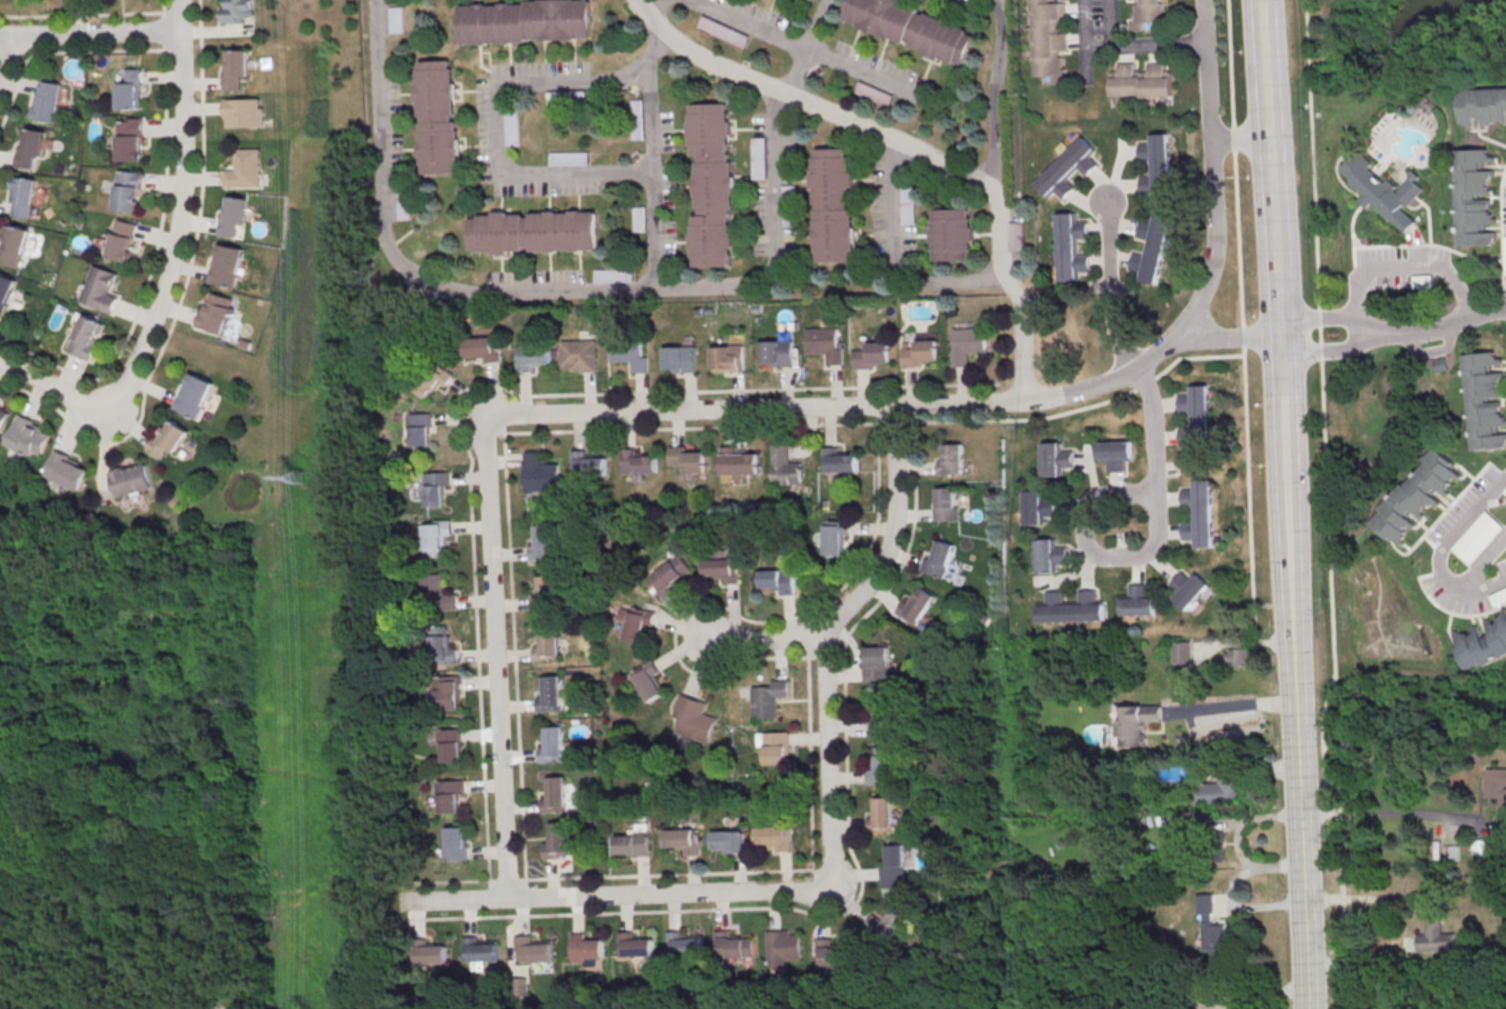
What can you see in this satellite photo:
building: (795, 0)
road: (652, 4)
building: (237, 11)
building: (1144, 13)
road: (80, 17)
building: (394, 19)
building: (522, 20)
road: (745, 24)
building: (909, 27)
road: (90, 34)
building: (1046, 39)
road: (809, 46)
road: (1134, 48)
road: (6, 59)
building: (235, 68)
road: (861, 71)
building: (1140, 81)
building: (130, 90)
road: (804, 100)
building: (48, 101)
building: (1483, 106)
building: (243, 112)
road: (497, 112)
building: (436, 116)
building: (511, 128)
road: (990, 138)
building: (130, 139)
road: (1240, 139)
building: (30, 147)
building: (567, 157)
building: (1155, 166)
road: (1269, 168)
building: (244, 169)
building: (1066, 169)
road: (1213, 174)
road: (654, 178)
building: (712, 184)
road: (771, 186)
building: (1383, 190)
building: (128, 191)
building: (24, 197)
building: (1474, 198)
building: (832, 205)
building: (906, 205)
building: (403, 206)
road: (199, 216)
building: (233, 216)
building: (639, 218)
building: (538, 231)
building: (950, 235)
building: (1013, 236)
building: (122, 240)
building: (13, 245)
building: (1068, 246)
building: (1150, 248)
road: (155, 251)
building: (226, 265)
road: (893, 265)
road: (171, 270)
road: (1401, 270)
building: (1423, 281)
building: (99, 289)
road: (449, 289)
road: (1105, 290)
building: (5, 291)
road: (1241, 307)
building: (216, 312)
road: (1319, 320)
road: (1434, 329)
building: (86, 336)
road: (1020, 338)
road: (1228, 338)
road: (1321, 338)
building: (823, 343)
building: (965, 344)
building: (482, 349)
building: (919, 351)
building: (630, 352)
building: (776, 353)
road: (1321, 353)
building: (871, 354)
building: (580, 355)
building: (532, 357)
building: (728, 357)
building: (681, 358)
building: (432, 380)
road: (749, 391)
building: (194, 395)
building: (1485, 401)
road: (830, 407)
building: (2, 417)
building: (1195, 419)
building: (421, 429)
road: (1153, 429)
road: (657, 430)
building: (26, 436)
building: (168, 438)
road: (1283, 439)
building: (1113, 454)
building: (949, 458)
building: (1053, 459)
building: (687, 460)
building: (839, 460)
building: (740, 462)
building: (639, 463)
building: (589, 464)
building: (786, 468)
building: (67, 470)
building: (541, 474)
power tower: (294, 475)
building: (131, 480)
building: (436, 488)
building: (1505, 491)
building: (1415, 497)
building: (946, 504)
building: (1037, 507)
building: (1199, 513)
road: (894, 528)
building: (836, 537)
building: (1477, 537)
building: (437, 538)
building: (543, 544)
road: (1442, 550)
road: (1150, 551)
building: (1049, 555)
building: (941, 560)
road: (1483, 562)
building: (722, 569)
building: (672, 575)
building: (777, 581)
building: (1188, 589)
building: (435, 593)
building: (545, 595)
building: (1499, 598)
building: (1139, 602)
building: (916, 606)
building: (1071, 608)
building: (639, 625)
road: (767, 641)
building: (548, 644)
building: (442, 646)
building: (1180, 652)
building: (1239, 657)
building: (876, 663)
road: (497, 671)
building: (650, 681)
building: (448, 691)
building: (550, 694)
building: (768, 699)
road: (1234, 704)
building: (880, 716)
building: (694, 718)
building: (1133, 723)
building: (552, 744)
building: (452, 745)
building: (776, 748)
road: (828, 753)
building: (881, 765)
road: (1297, 774)
building: (1496, 783)
building: (1220, 791)
building: (555, 794)
building: (451, 796)
building: (881, 814)
road: (1384, 814)
building: (776, 836)
building: (558, 840)
building: (683, 840)
building: (730, 840)
road: (1338, 841)
building: (635, 842)
building: (1212, 842)
building: (457, 843)
building: (894, 868)
road: (573, 879)
road: (446, 882)
road: (863, 882)
road: (618, 896)
road: (1401, 923)
building: (892, 925)
building: (1212, 925)
building: (1436, 933)
building: (684, 944)
building: (733, 944)
building: (637, 945)
building: (588, 946)
building: (784, 947)
building: (479, 948)
building: (535, 949)
building: (428, 951)
building: (831, 954)
road: (1252, 994)

